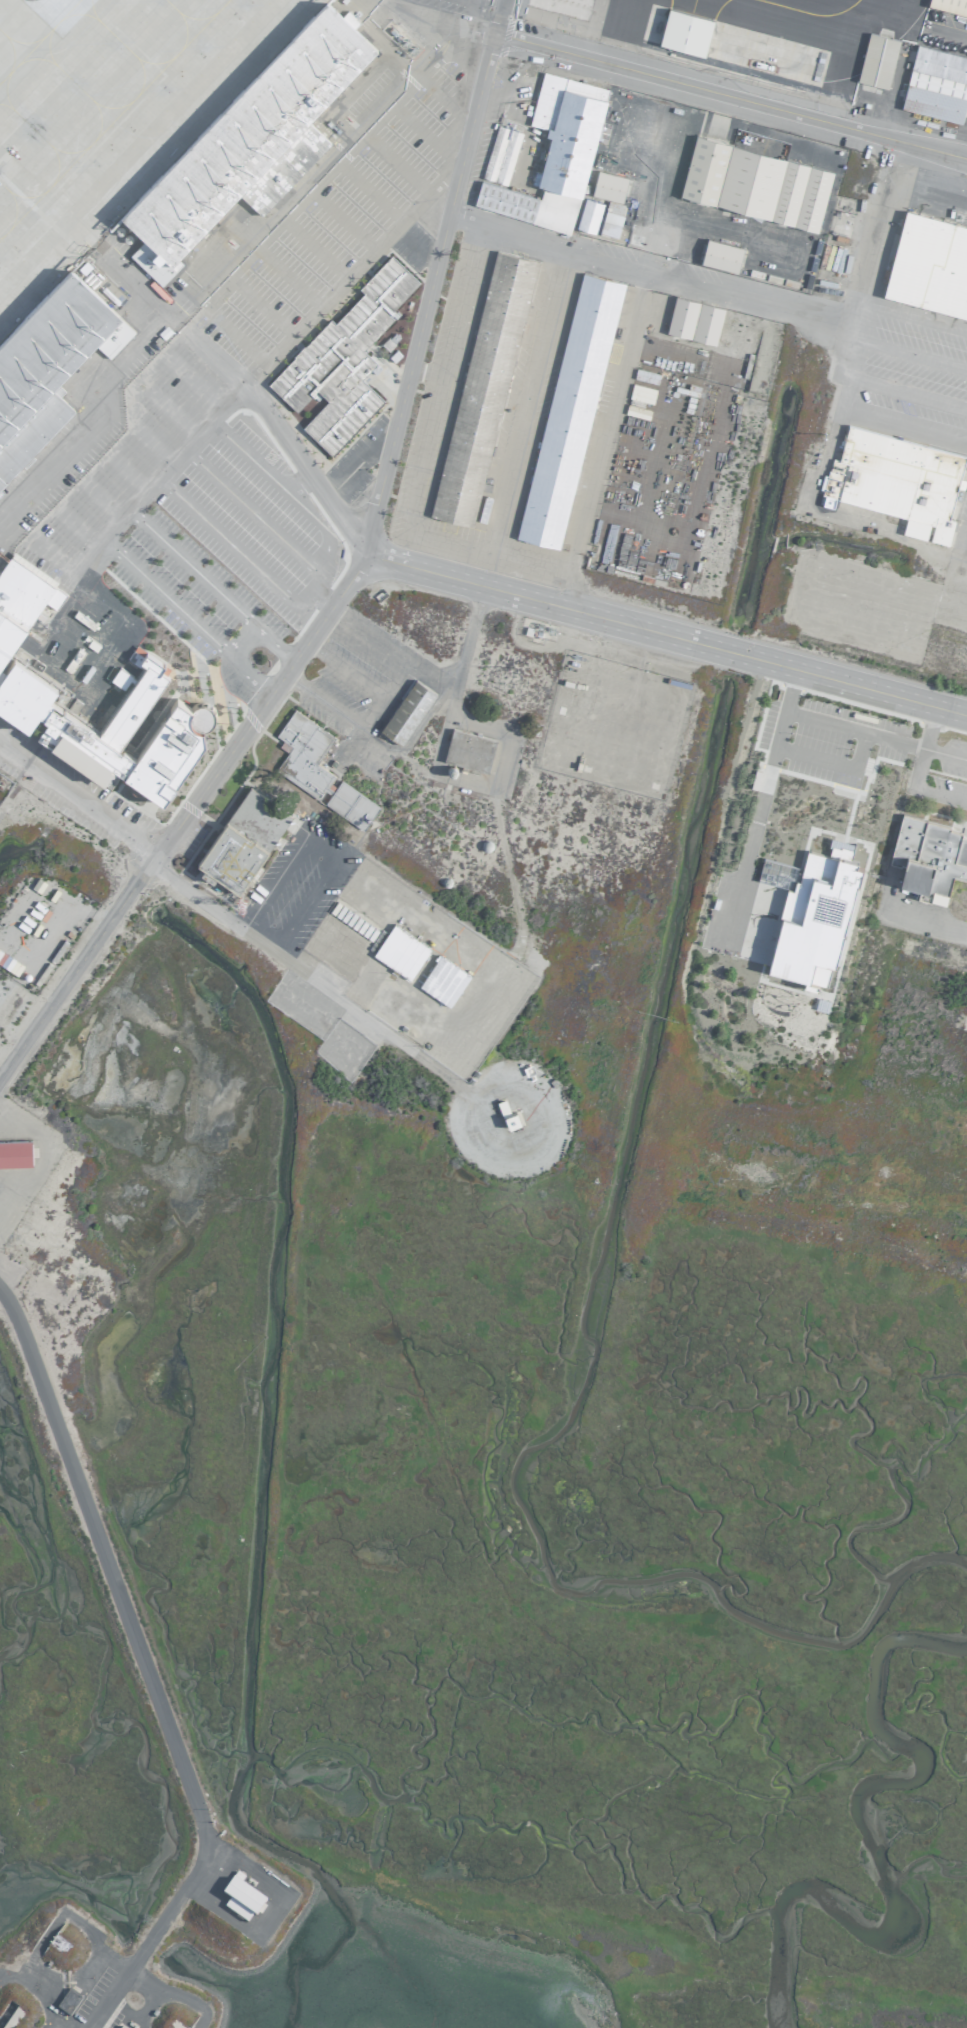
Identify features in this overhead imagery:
building: (949, 6)
airport apron: (812, 19)
airport hangar: (683, 32)
building: (683, 32)
building: (877, 60)
building: (936, 84)
road: (729, 96)
road: (444, 98)
airport apron: (111, 117)
road: (425, 135)
airport hangar: (250, 144)
building: (250, 144)
building: (500, 154)
building: (553, 155)
road: (396, 163)
building: (350, 167)
building: (754, 183)
building: (607, 185)
road: (370, 191)
building: (588, 215)
building: (610, 219)
road: (342, 221)
road: (270, 232)
road: (413, 247)
road: (316, 249)
building: (719, 254)
building: (929, 264)
road: (651, 274)
road: (288, 279)
road: (345, 283)
road: (430, 283)
road: (263, 307)
road: (915, 316)
building: (693, 320)
road: (235, 336)
road: (855, 336)
road: (909, 355)
building: (342, 359)
road: (212, 362)
airport hangar: (44, 367)
building: (44, 367)
road: (193, 382)
building: (482, 388)
road: (906, 392)
road: (437, 395)
road: (168, 408)
building: (568, 410)
road: (522, 418)
road: (187, 451)
road: (261, 469)
road: (312, 478)
building: (895, 480)
road: (116, 524)
road: (321, 528)
road: (269, 529)
road: (234, 549)
road: (966, 556)
road: (961, 584)
building: (21, 597)
road: (669, 634)
road: (242, 646)
road: (344, 671)
road: (426, 675)
building: (406, 711)
road: (352, 724)
building: (112, 727)
road: (779, 729)
road: (854, 729)
building: (468, 749)
road: (829, 765)
building: (318, 769)
road: (916, 772)
road: (17, 788)
road: (78, 797)
road: (181, 817)
road: (749, 835)
building: (242, 839)
road: (320, 848)
building: (928, 857)
building: (808, 914)
building: (399, 951)
road: (309, 980)
building: (442, 980)
airport: (483, 1014)
building: (14, 1152)
road: (145, 1670)
building: (239, 1897)
road: (173, 1995)
road: (36, 1997)
building: (67, 2000)
road: (48, 2025)

